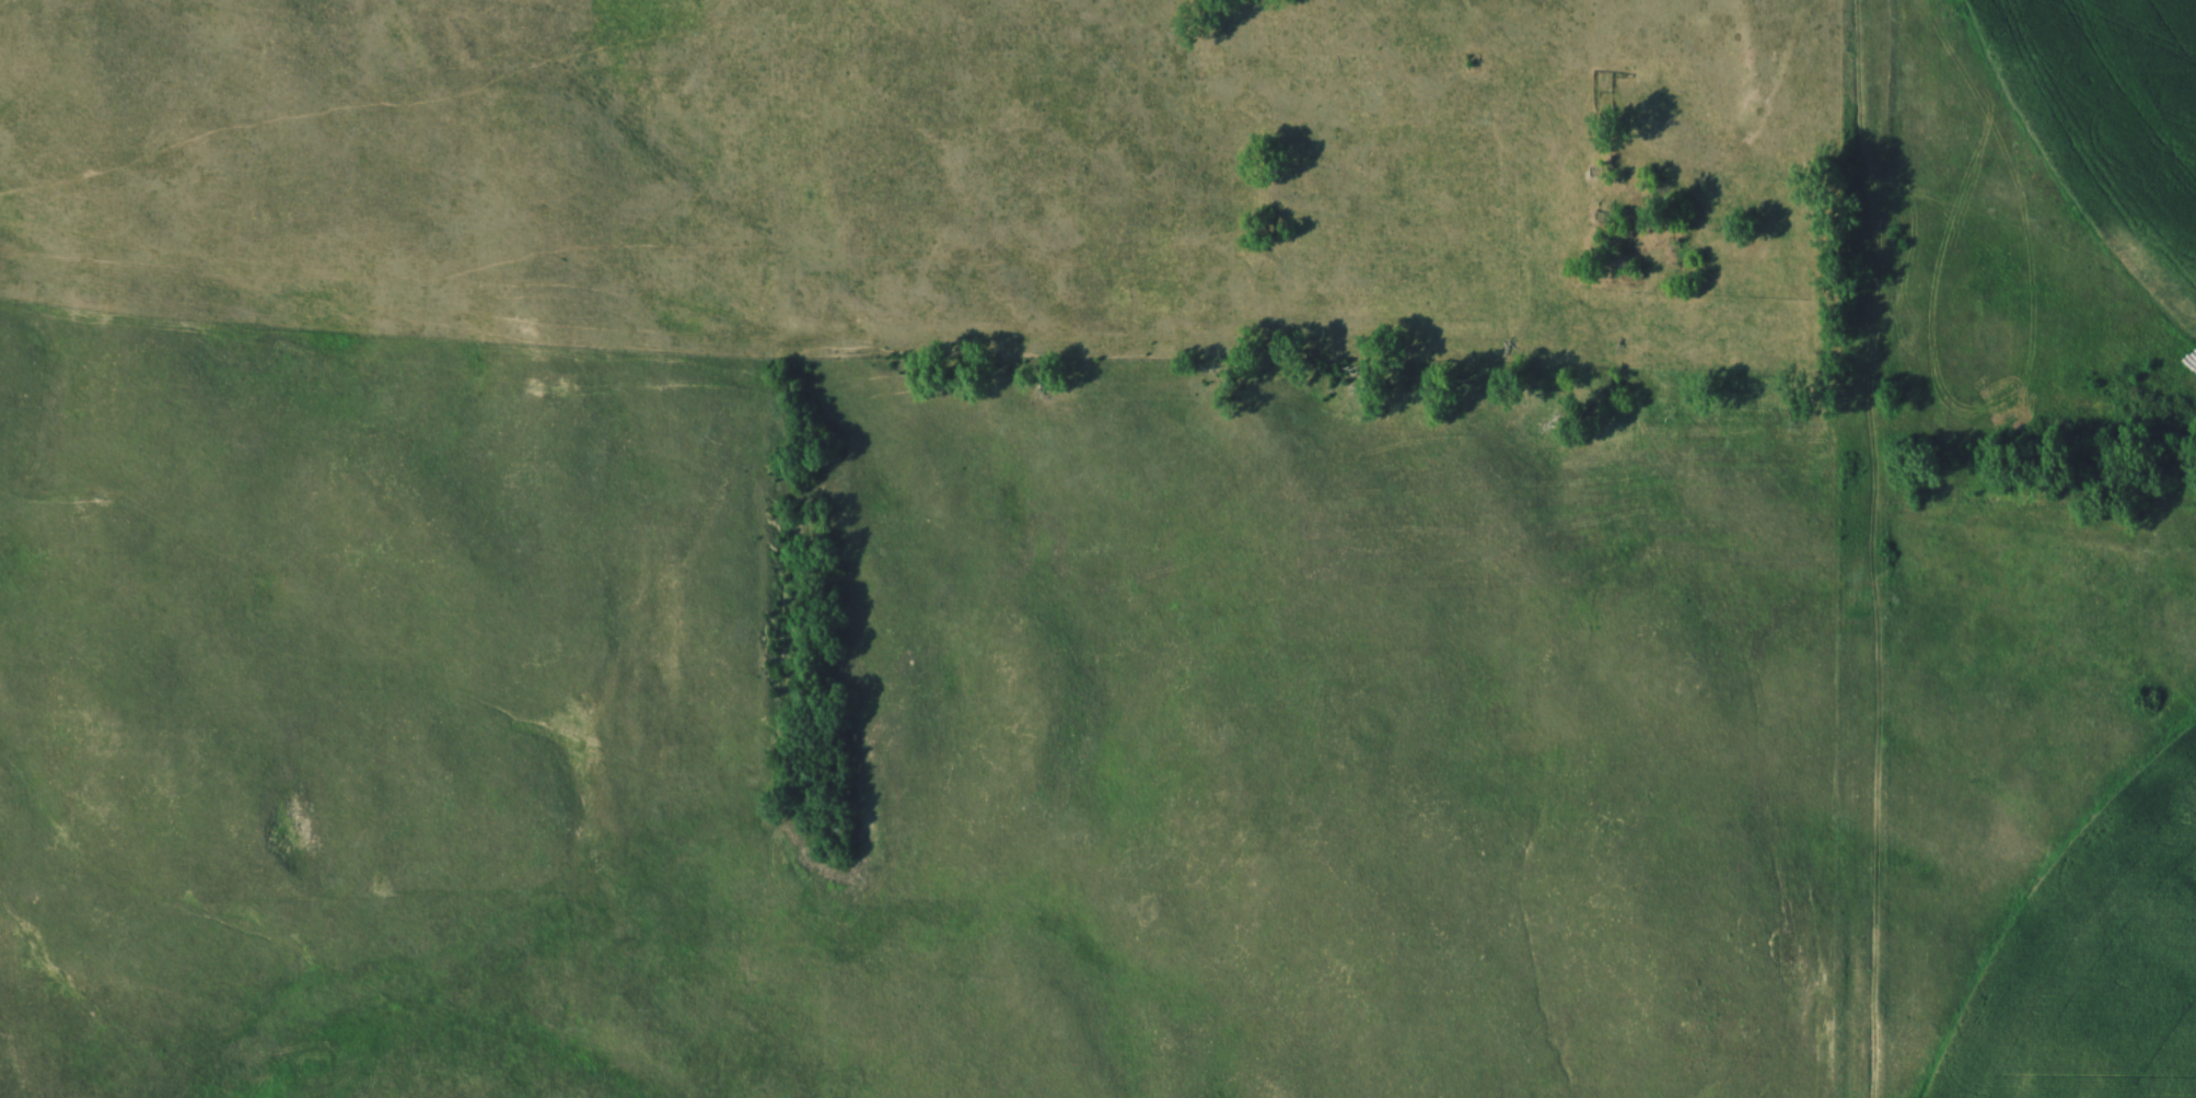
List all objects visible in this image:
road: (1872, 549)

